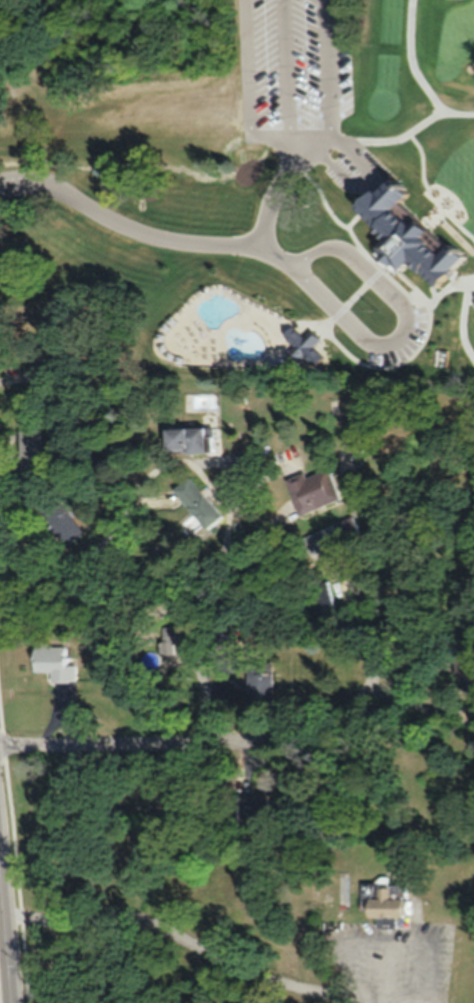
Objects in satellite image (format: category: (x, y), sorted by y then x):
park: (449, 33)
road: (380, 45)
road: (414, 65)
parking lot: (307, 70)
road: (330, 70)
parking lot: (292, 76)
road: (289, 78)
road: (251, 90)
building: (128, 97)
building: (471, 141)
road: (40, 173)
road: (364, 178)
road: (40, 184)
building: (466, 219)
park: (277, 224)
parking lot: (426, 243)
road: (447, 255)
park: (166, 331)
park: (201, 333)
park: (300, 333)
park: (333, 335)
building: (185, 439)
building: (29, 450)
building: (310, 489)
road: (224, 501)
building: (196, 502)
building: (60, 520)
building: (345, 527)
road: (24, 592)
building: (100, 651)
building: (51, 661)
building: (259, 682)
road: (198, 745)
building: (252, 810)
building: (385, 902)
road: (191, 938)
road: (9, 949)

